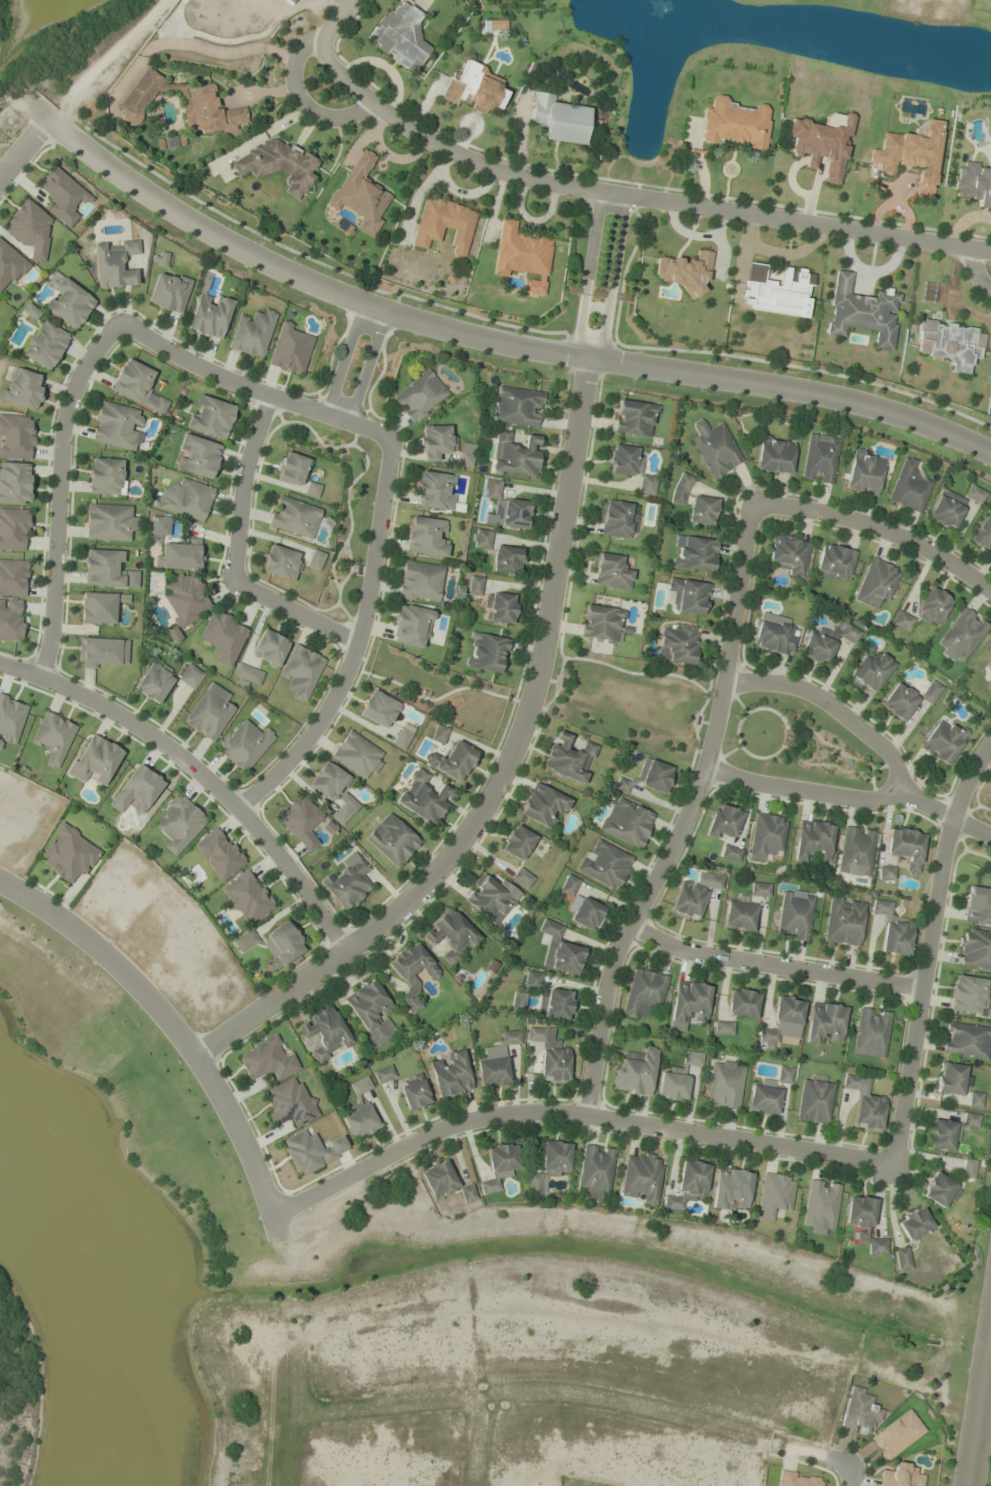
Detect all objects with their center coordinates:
road: (334, 19)
building: (400, 36)
building: (474, 89)
building: (198, 99)
road: (301, 102)
building: (558, 119)
building: (733, 124)
building: (822, 143)
road: (24, 146)
building: (910, 155)
building: (277, 165)
building: (974, 184)
building: (360, 193)
building: (63, 196)
road: (632, 196)
building: (444, 224)
building: (31, 230)
building: (523, 257)
building: (162, 259)
building: (114, 263)
building: (11, 265)
building: (684, 272)
road: (976, 274)
building: (777, 291)
building: (169, 292)
building: (68, 303)
building: (30, 311)
building: (861, 312)
building: (209, 315)
building: (252, 332)
road: (487, 335)
building: (948, 343)
building: (45, 344)
building: (290, 350)
road: (588, 356)
road: (344, 358)
road: (368, 365)
building: (137, 385)
road: (251, 389)
building: (23, 390)
building: (420, 395)
building: (517, 406)
building: (210, 417)
building: (633, 418)
building: (116, 426)
building: (16, 436)
building: (435, 441)
building: (713, 448)
building: (465, 454)
building: (514, 454)
building: (774, 455)
building: (197, 456)
building: (819, 459)
building: (629, 467)
building: (292, 469)
building: (862, 472)
building: (106, 476)
building: (15, 483)
road: (241, 486)
building: (908, 487)
building: (680, 488)
building: (312, 490)
road: (58, 491)
building: (435, 491)
building: (974, 493)
building: (186, 499)
building: (507, 507)
building: (945, 508)
building: (701, 510)
building: (294, 517)
building: (617, 519)
building: (109, 522)
building: (159, 526)
road: (879, 528)
building: (14, 529)
building: (984, 532)
building: (425, 536)
building: (481, 539)
building: (693, 553)
building: (180, 555)
building: (788, 555)
building: (506, 559)
building: (315, 560)
building: (281, 562)
building: (833, 562)
building: (103, 568)
building: (609, 570)
building: (13, 577)
building: (419, 581)
building: (875, 582)
building: (474, 585)
building: (687, 596)
building: (184, 601)
building: (101, 606)
building: (931, 606)
building: (499, 607)
road: (294, 613)
building: (11, 619)
building: (901, 621)
building: (601, 623)
building: (411, 626)
building: (961, 634)
building: (223, 637)
building: (774, 637)
road: (357, 641)
building: (824, 642)
building: (676, 644)
building: (269, 648)
building: (102, 652)
building: (486, 652)
building: (988, 664)
building: (300, 671)
building: (869, 672)
building: (247, 675)
building: (190, 676)
building: (989, 679)
building: (154, 682)
building: (929, 691)
building: (897, 701)
building: (378, 708)
building: (210, 712)
building: (11, 719)
building: (439, 733)
building: (402, 735)
building: (53, 737)
building: (941, 741)
building: (244, 745)
building: (357, 754)
building: (568, 758)
building: (95, 759)
building: (452, 761)
road: (502, 770)
road: (200, 771)
road: (895, 774)
building: (653, 775)
building: (328, 781)
building: (621, 785)
building: (137, 790)
building: (423, 797)
building: (542, 805)
building: (344, 808)
road: (943, 811)
road: (684, 815)
building: (299, 820)
building: (626, 822)
building: (723, 822)
building: (179, 823)
building: (766, 836)
building: (392, 839)
building: (811, 841)
building: (517, 842)
building: (905, 847)
building: (854, 851)
building: (730, 853)
building: (68, 854)
building: (219, 854)
building: (604, 864)
building: (884, 872)
building: (522, 877)
building: (347, 882)
building: (569, 885)
building: (759, 889)
building: (693, 895)
building: (246, 896)
building: (491, 898)
building: (977, 905)
building: (880, 906)
building: (585, 912)
building: (738, 915)
building: (794, 915)
building: (843, 921)
building: (451, 935)
building: (895, 937)
building: (245, 941)
building: (284, 944)
road: (928, 947)
building: (974, 949)
building: (560, 950)
road: (773, 963)
building: (412, 972)
building: (532, 979)
building: (645, 993)
building: (518, 1001)
building: (689, 1001)
building: (555, 1003)
building: (742, 1003)
building: (371, 1011)
building: (783, 1020)
building: (824, 1022)
building: (723, 1027)
road: (176, 1031)
building: (871, 1032)
building: (325, 1033)
building: (966, 1040)
building: (551, 1056)
building: (267, 1060)
building: (497, 1060)
building: (636, 1072)
building: (384, 1074)
building: (784, 1074)
building: (452, 1075)
building: (678, 1077)
building: (953, 1078)
building: (725, 1084)
building: (361, 1085)
building: (414, 1091)
building: (764, 1097)
building: (975, 1099)
building: (815, 1100)
building: (290, 1103)
building: (865, 1103)
road: (570, 1114)
building: (971, 1119)
building: (360, 1120)
building: (943, 1134)
building: (312, 1151)
building: (500, 1165)
building: (550, 1165)
building: (969, 1168)
building: (596, 1169)
building: (641, 1178)
building: (445, 1182)
building: (689, 1185)
building: (732, 1189)
building: (941, 1190)
building: (775, 1195)
building: (821, 1204)
building: (864, 1222)
building: (914, 1223)
building: (902, 1258)
road: (979, 1407)
building: (861, 1411)
building: (897, 1434)
road: (839, 1462)
building: (901, 1476)
road: (849, 1478)
building: (797, 1479)

